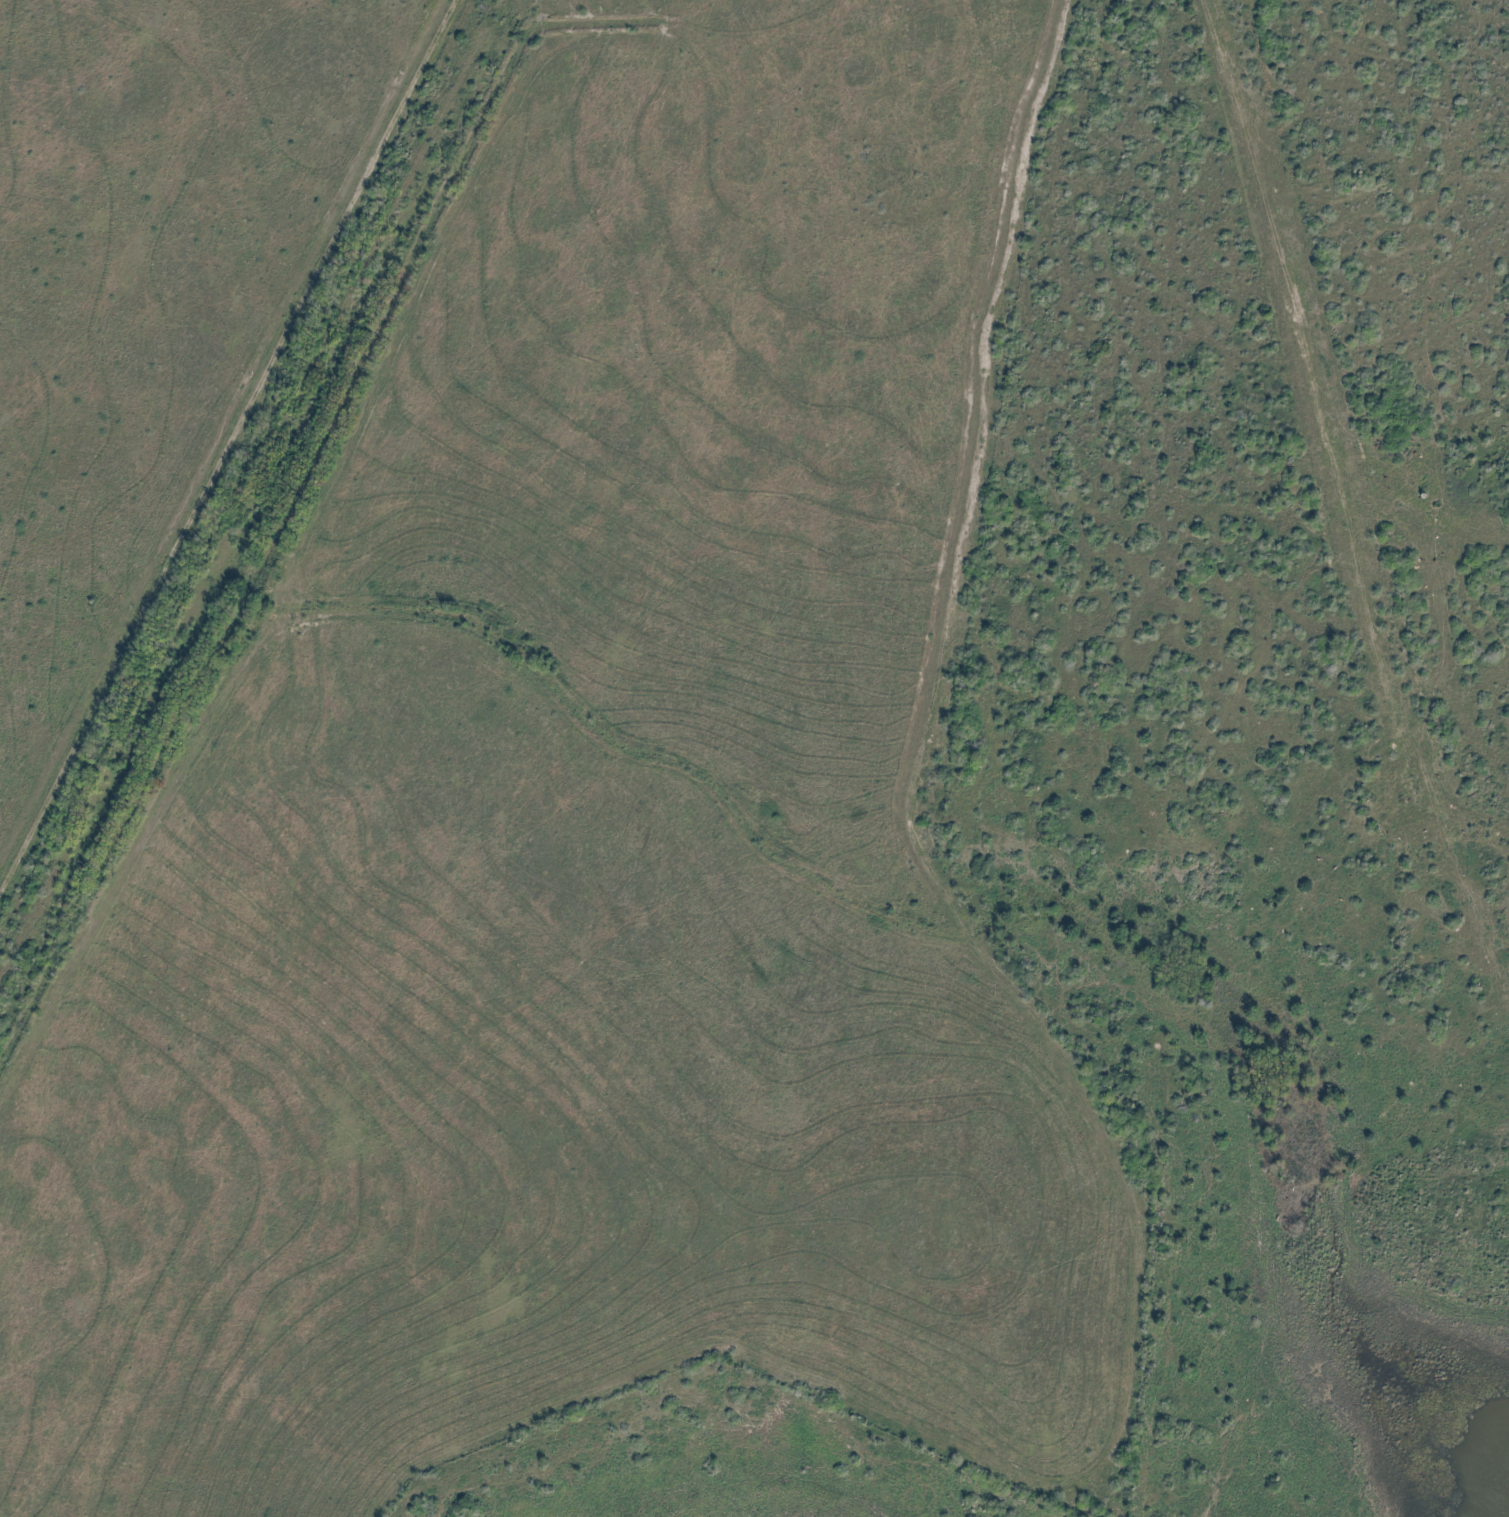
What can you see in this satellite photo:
road: (1316, 390)
railway: (251, 491)

